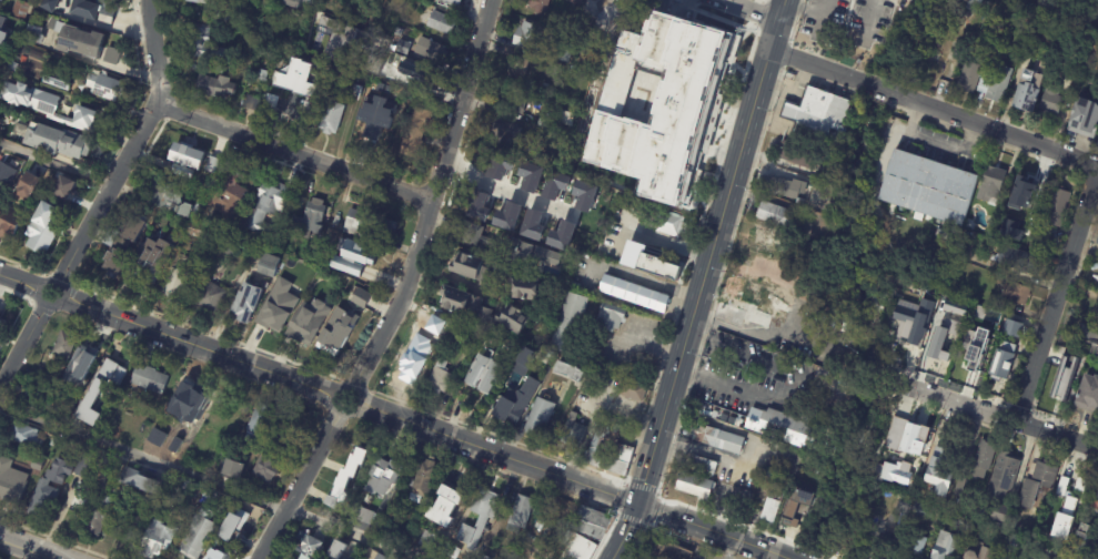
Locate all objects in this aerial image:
building: (0, 0)
building: (197, 1)
building: (453, 1)
building: (574, 1)
building: (296, 2)
building: (68, 3)
building: (46, 6)
building: (536, 6)
building: (973, 6)
building: (90, 7)
road: (753, 9)
building: (984, 9)
building: (18, 10)
building: (0, 17)
building: (224, 18)
building: (441, 23)
building: (563, 23)
building: (32, 34)
building: (534, 37)
building: (333, 39)
building: (4, 41)
building: (79, 42)
building: (202, 47)
building: (401, 47)
building: (429, 50)
building: (564, 52)
building: (30, 53)
building: (1, 55)
building: (110, 57)
building: (10, 65)
building: (291, 67)
building: (442, 68)
building: (218, 70)
building: (516, 70)
road: (822, 70)
building: (414, 72)
building: (260, 75)
building: (969, 78)
building: (353, 79)
building: (421, 79)
building: (56, 80)
building: (995, 85)
building: (103, 88)
building: (214, 88)
building: (545, 88)
building: (371, 89)
building: (352, 92)
road: (883, 92)
building: (1028, 93)
building: (279, 99)
building: (420, 101)
building: (1051, 101)
building: (405, 102)
building: (249, 103)
building: (364, 103)
building: (662, 103)
building: (511, 104)
building: (46, 105)
building: (818, 108)
building: (309, 110)
building: (375, 116)
building: (330, 118)
building: (1084, 118)
building: (564, 119)
building: (527, 120)
building: (543, 123)
building: (814, 129)
road: (994, 132)
building: (413, 133)
building: (502, 133)
building: (56, 141)
building: (1097, 145)
road: (131, 146)
road: (295, 152)
building: (175, 154)
building: (795, 155)
road: (54, 162)
building: (498, 163)
building: (211, 164)
building: (11, 171)
building: (181, 171)
building: (527, 171)
building: (994, 181)
building: (553, 183)
building: (927, 184)
building: (27, 186)
road: (505, 186)
building: (63, 189)
building: (784, 189)
building: (228, 190)
building: (0, 192)
building: (584, 195)
building: (1026, 196)
building: (170, 199)
road: (434, 201)
building: (265, 206)
building: (1055, 211)
building: (482, 212)
building: (773, 215)
building: (507, 216)
building: (204, 218)
building: (309, 221)
building: (663, 223)
building: (9, 224)
building: (532, 225)
building: (970, 225)
building: (366, 226)
building: (230, 231)
building: (201, 233)
building: (989, 234)
building: (40, 235)
building: (562, 235)
building: (944, 236)
building: (766, 240)
building: (1097, 243)
building: (123, 247)
building: (225, 247)
road: (674, 247)
building: (1032, 247)
building: (506, 248)
building: (359, 253)
building: (310, 257)
building: (149, 258)
building: (325, 258)
building: (648, 260)
building: (1021, 262)
building: (361, 263)
building: (345, 265)
building: (268, 266)
building: (476, 272)
building: (361, 275)
building: (282, 277)
road: (19, 281)
road: (703, 281)
road: (653, 283)
building: (173, 288)
building: (524, 289)
building: (937, 289)
road: (1057, 292)
road: (39, 294)
building: (1016, 294)
building: (634, 295)
building: (360, 297)
building: (208, 298)
building: (325, 298)
building: (244, 304)
building: (753, 304)
building: (955, 307)
building: (482, 309)
building: (610, 318)
building: (0, 321)
building: (308, 322)
building: (913, 322)
building: (278, 324)
building: (437, 324)
building: (568, 324)
building: (1011, 328)
building: (944, 336)
building: (325, 339)
building: (1088, 339)
building: (470, 342)
building: (64, 344)
road: (22, 346)
road: (199, 346)
building: (1000, 346)
building: (302, 350)
building: (84, 354)
building: (550, 357)
building: (1079, 359)
building: (968, 363)
building: (406, 364)
building: (522, 364)
building: (570, 370)
building: (1003, 370)
building: (483, 373)
building: (824, 377)
building: (439, 378)
building: (149, 379)
road: (789, 385)
building: (1060, 388)
building: (99, 392)
building: (633, 392)
building: (1088, 395)
building: (191, 396)
building: (121, 399)
building: (34, 400)
building: (69, 402)
road: (334, 402)
building: (514, 406)
road: (996, 407)
building: (538, 418)
building: (159, 423)
building: (258, 424)
building: (604, 425)
building: (783, 427)
building: (616, 430)
building: (573, 434)
building: (22, 435)
building: (906, 437)
building: (596, 440)
building: (718, 440)
building: (274, 450)
road: (699, 450)
building: (354, 453)
road: (497, 454)
building: (612, 460)
building: (983, 460)
building: (901, 464)
building: (37, 465)
building: (83, 466)
building: (704, 466)
building: (805, 468)
building: (232, 469)
building: (940, 471)
building: (766, 475)
building: (345, 478)
building: (383, 478)
building: (423, 478)
building: (1003, 478)
building: (135, 479)
building: (728, 479)
building: (11, 482)
road: (211, 482)
road: (298, 485)
building: (1037, 485)
building: (1061, 486)
building: (48, 487)
building: (959, 487)
building: (1075, 487)
building: (694, 488)
building: (1094, 500)
building: (956, 501)
traffic signals: (637, 505)
building: (941, 505)
building: (1069, 506)
building: (444, 507)
building: (770, 509)
building: (245, 510)
building: (923, 512)
building: (518, 514)
building: (362, 515)
building: (99, 516)
building: (999, 516)
building: (122, 518)
building: (477, 518)
building: (788, 518)
building: (1061, 526)
building: (1084, 530)
road: (715, 531)
building: (967, 531)
building: (583, 533)
building: (195, 536)
building: (1084, 537)
building: (854, 538)
building: (152, 540)
building: (425, 540)
building: (1013, 545)
building: (308, 547)
building: (946, 547)
road: (29, 548)
building: (884, 548)
building: (913, 549)
building: (335, 550)
building: (663, 551)
building: (979, 551)
building: (1026, 551)
building: (213, 553)
building: (379, 557)
building: (483, 557)
road: (794, 558)
building: (1031, 558)

